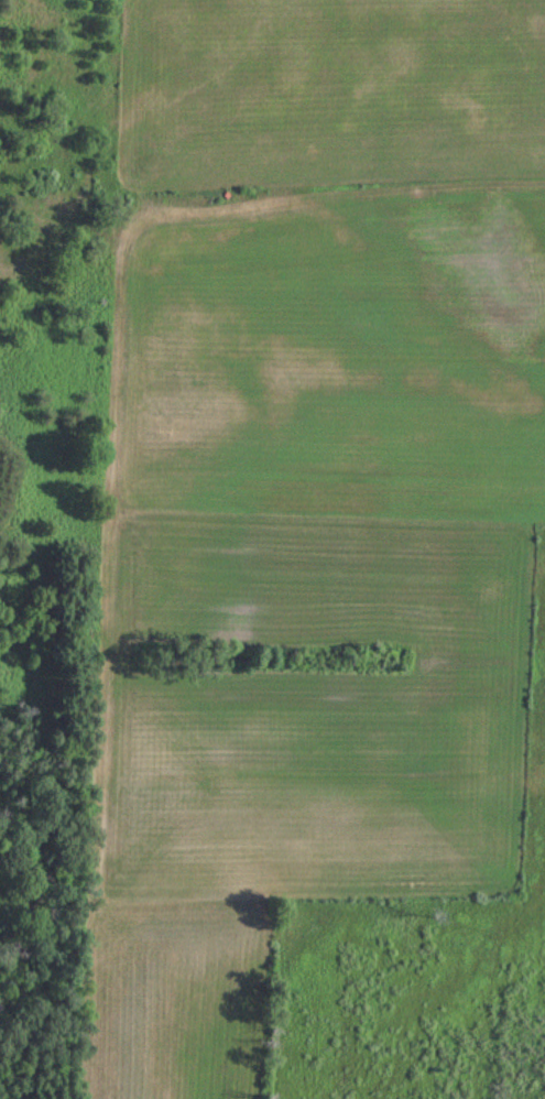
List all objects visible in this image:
crop: (329, 90)

